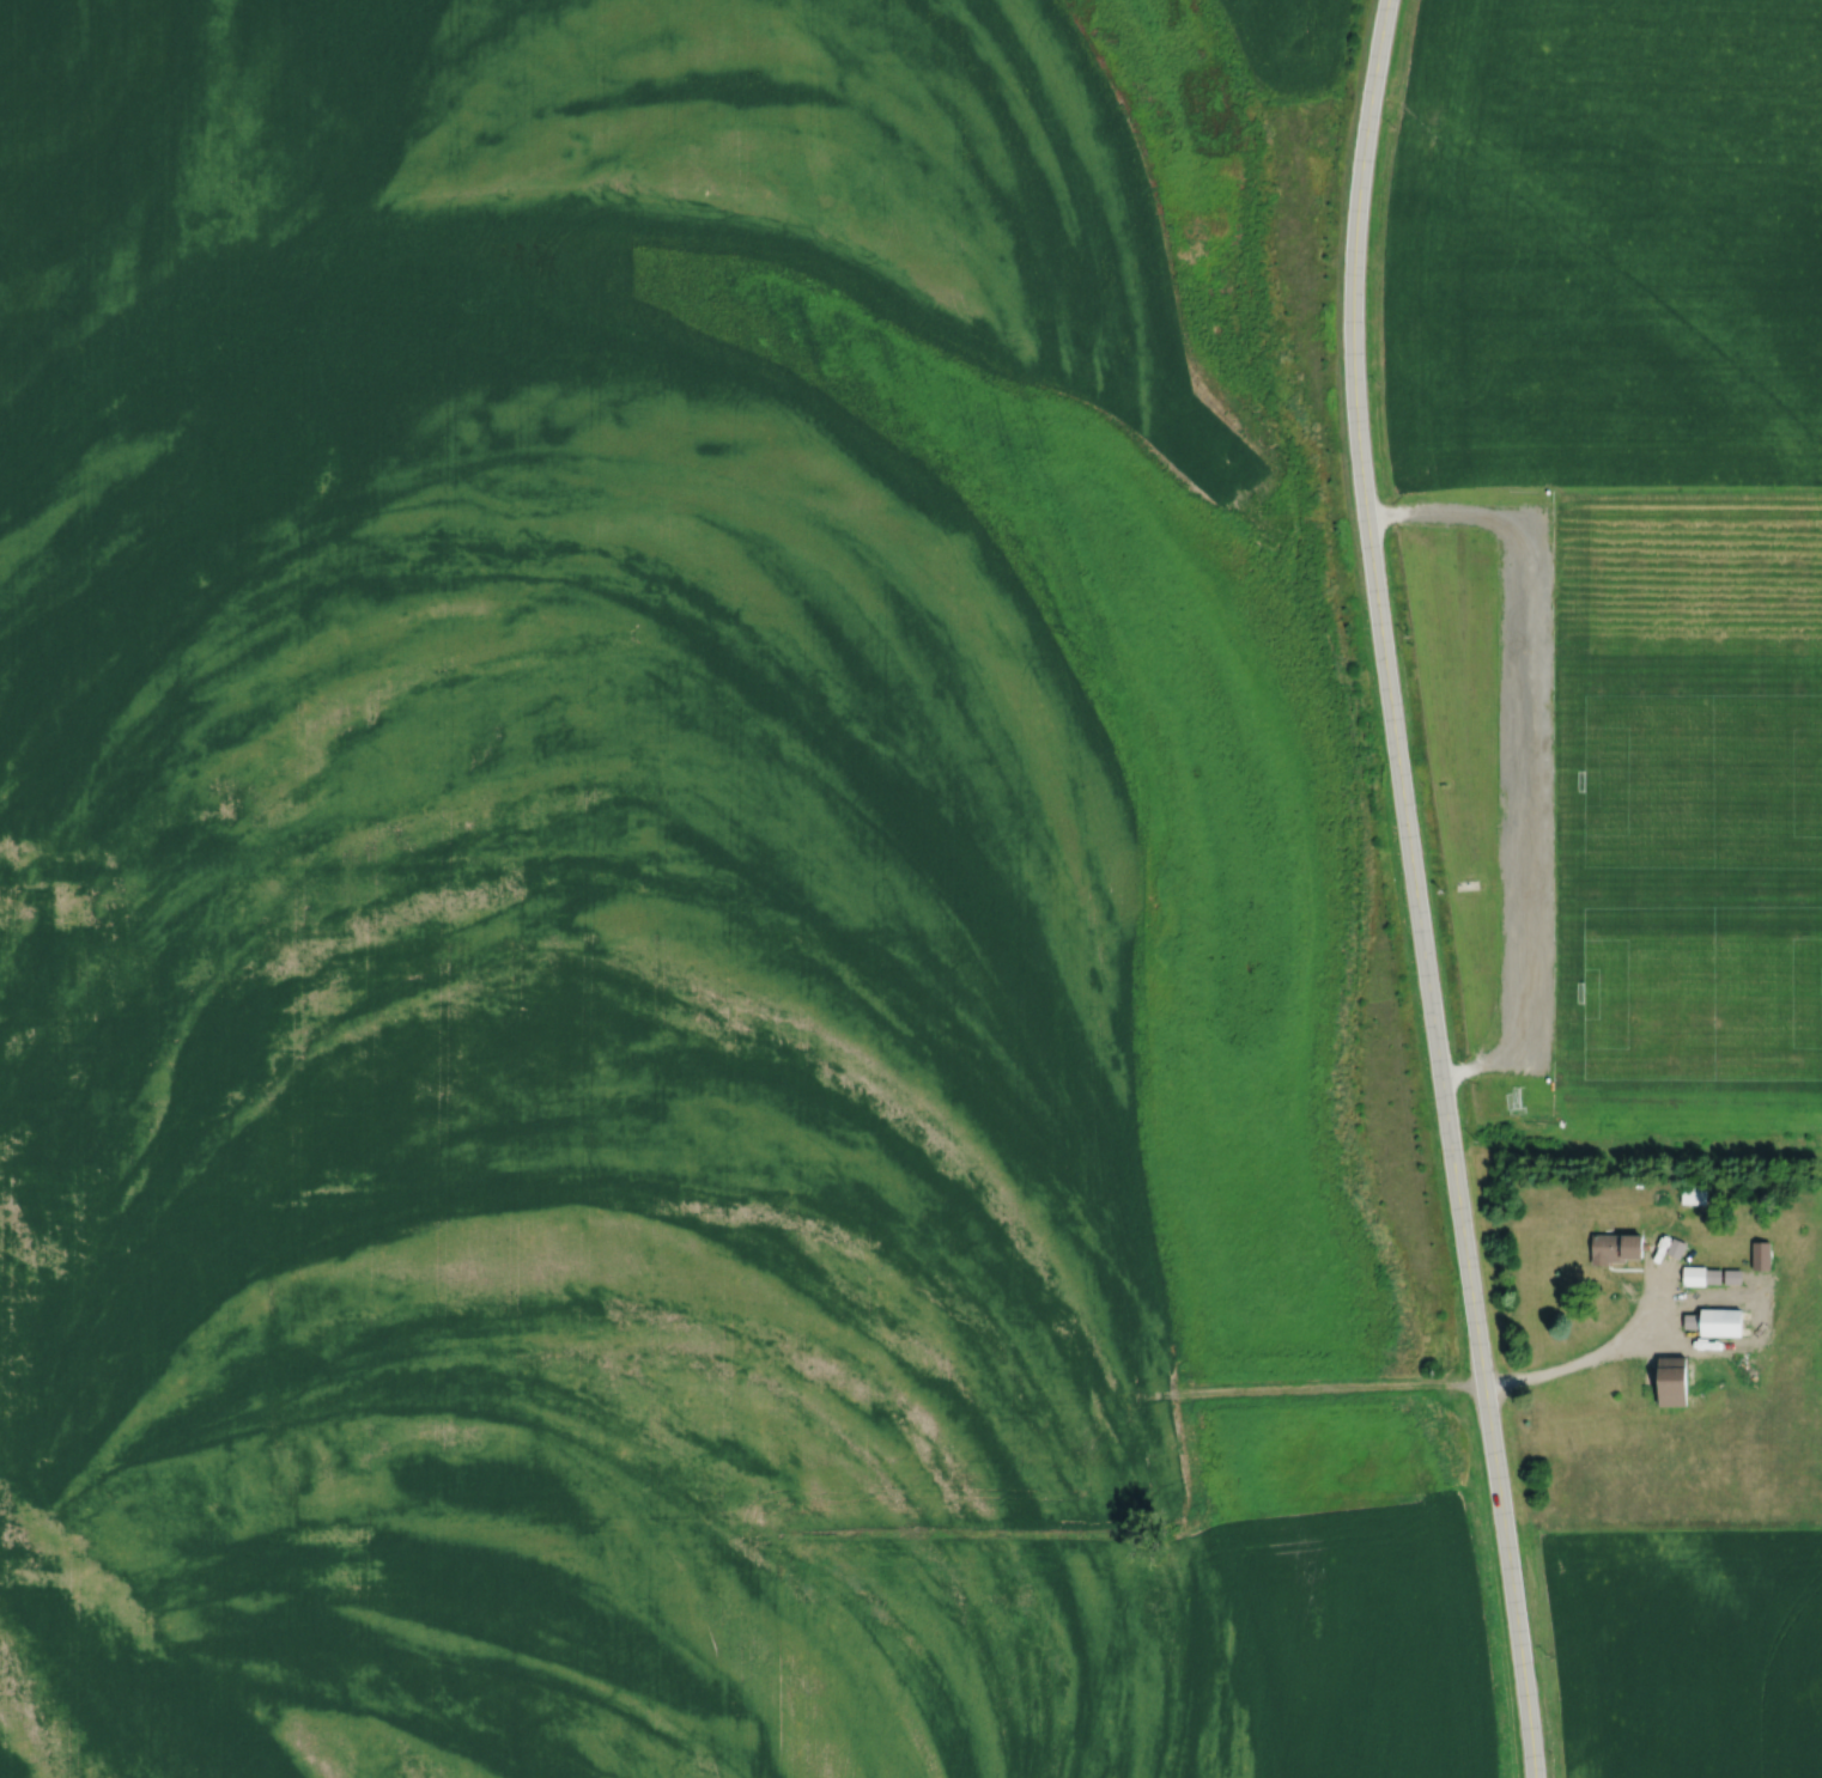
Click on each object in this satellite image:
road: (1529, 743)
road: (1414, 890)
building: (1692, 1194)
building: (1659, 1195)
building: (1615, 1246)
building: (1675, 1247)
building: (1760, 1254)
building: (1693, 1274)
building: (1712, 1274)
building: (1732, 1275)
building: (1692, 1319)
building: (1719, 1320)
road: (1719, 1346)
building: (1671, 1380)

